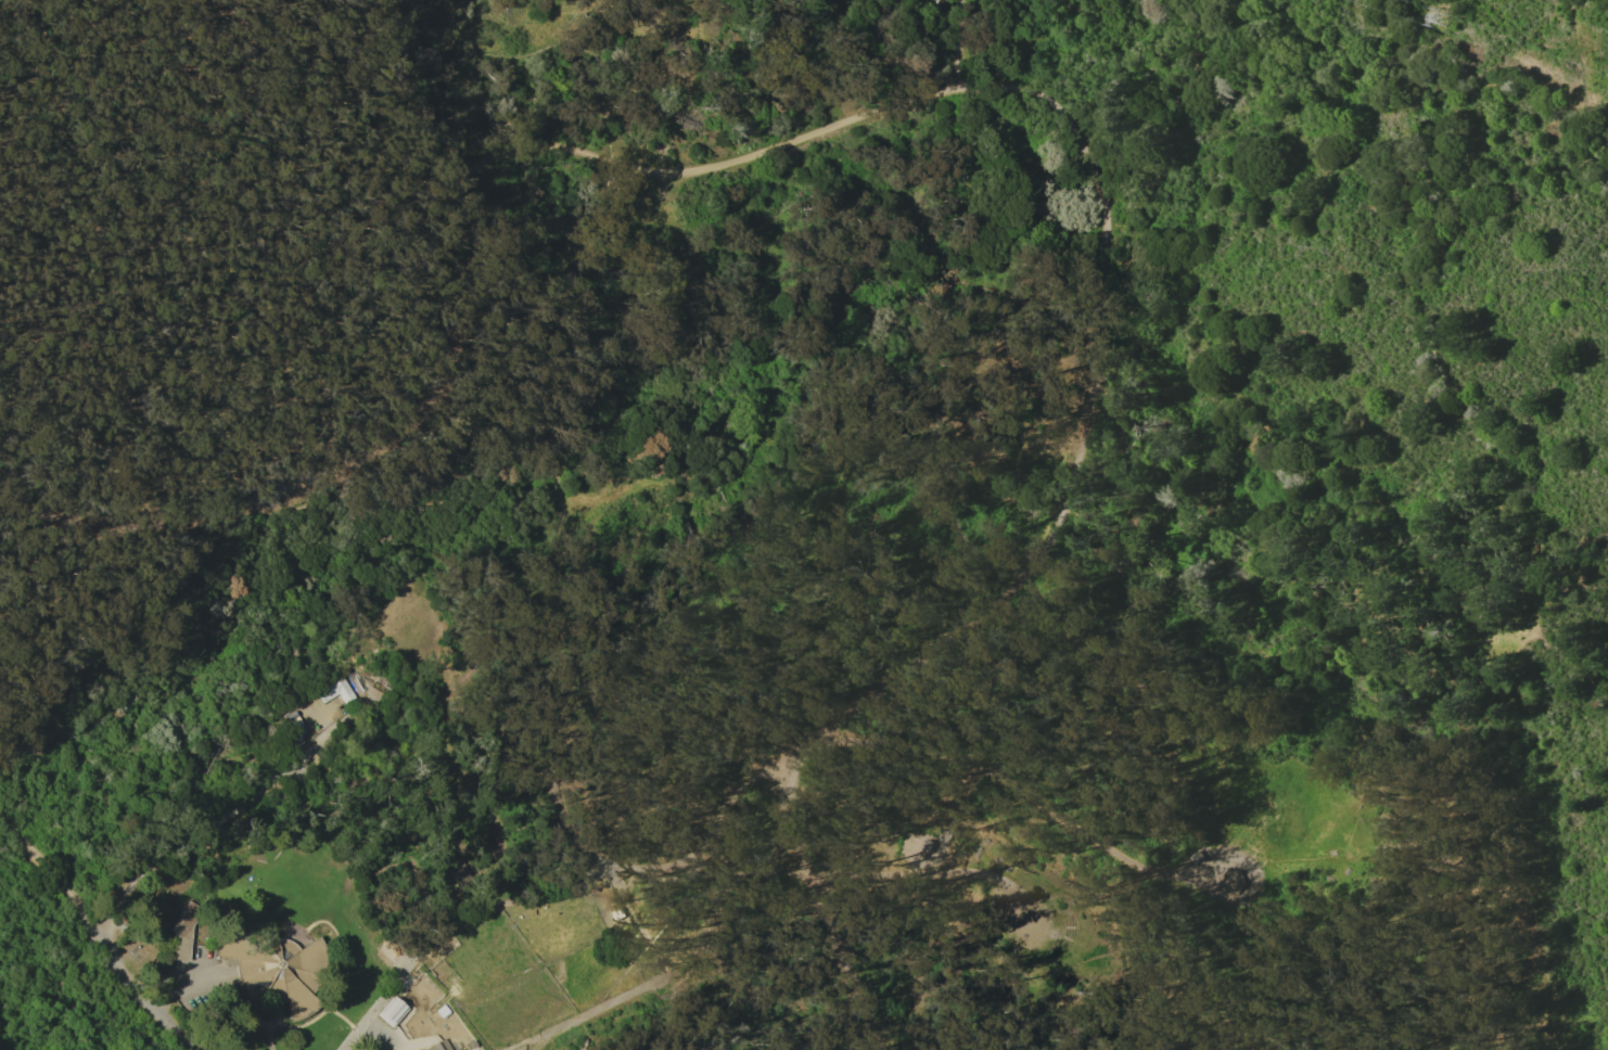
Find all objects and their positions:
power tower: (1442, 9)
road: (960, 44)
road: (967, 88)
road: (1165, 98)
road: (361, 102)
road: (598, 269)
road: (417, 489)
road: (935, 578)
road: (1412, 593)
road: (500, 642)
building: (334, 690)
building: (292, 728)
road: (493, 821)
road: (1025, 836)
road: (608, 872)
road: (324, 876)
building: (460, 878)
road: (917, 878)
building: (1233, 881)
road: (750, 887)
road: (72, 891)
road: (448, 892)
road: (1111, 904)
road: (322, 920)
building: (183, 932)
building: (279, 966)
road: (183, 978)
building: (392, 1011)
road: (155, 1013)
road: (268, 1022)
road: (298, 1024)
road: (355, 1035)
road: (378, 1035)
building: (441, 1046)

